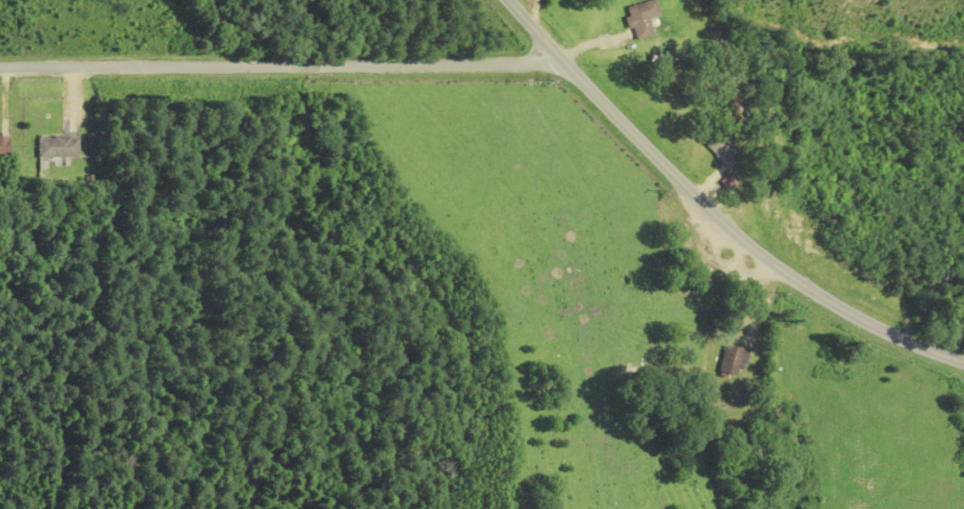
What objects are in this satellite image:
building: (642, 18)
road: (532, 27)
road: (279, 76)
building: (59, 146)
building: (4, 147)
building: (723, 149)
road: (740, 235)
building: (734, 361)

